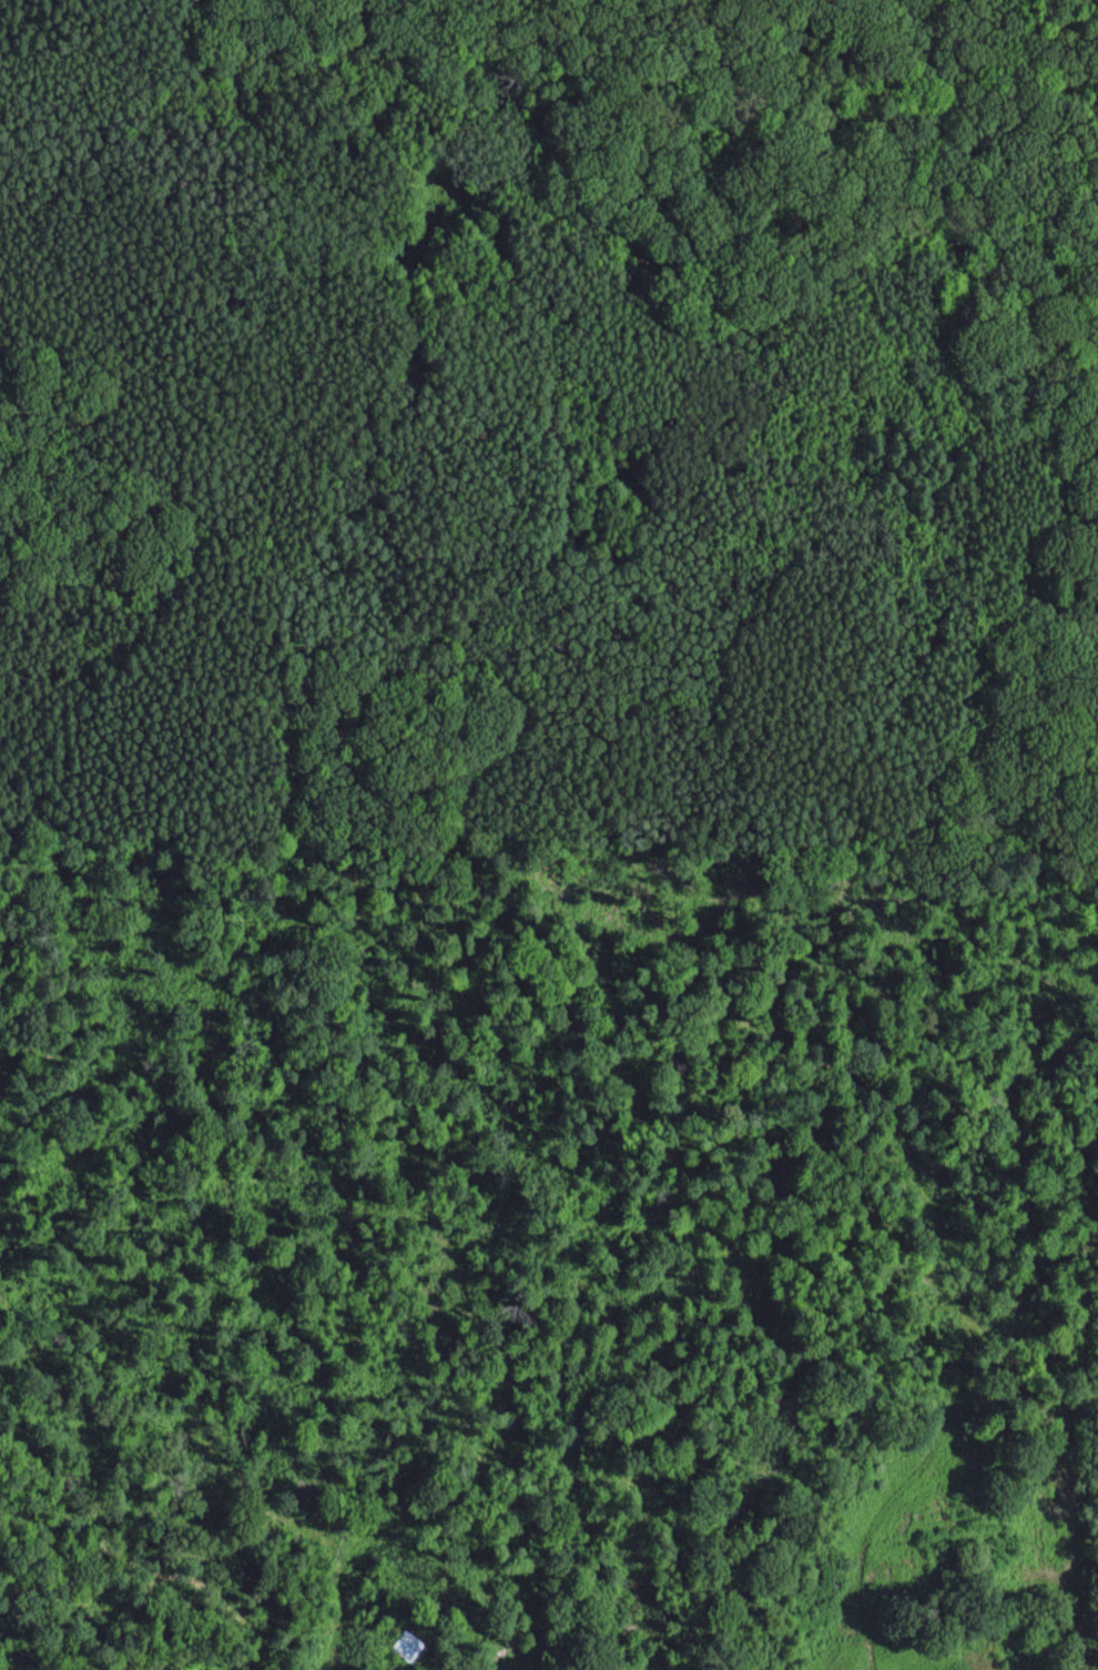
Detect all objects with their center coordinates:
road: (162, 1576)
building: (408, 1644)

